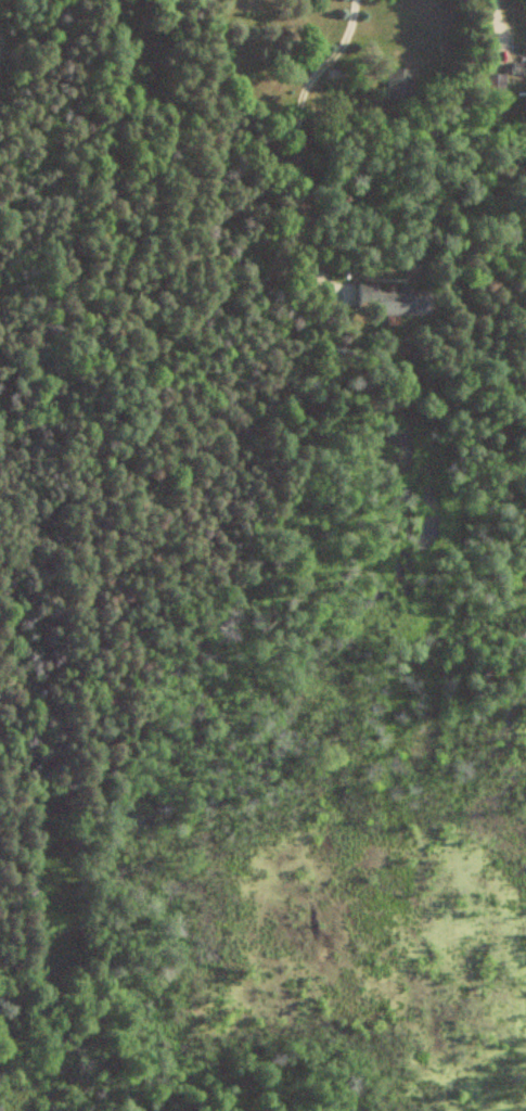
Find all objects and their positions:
building: (517, 68)
building: (398, 84)
building: (495, 84)
building: (388, 298)

